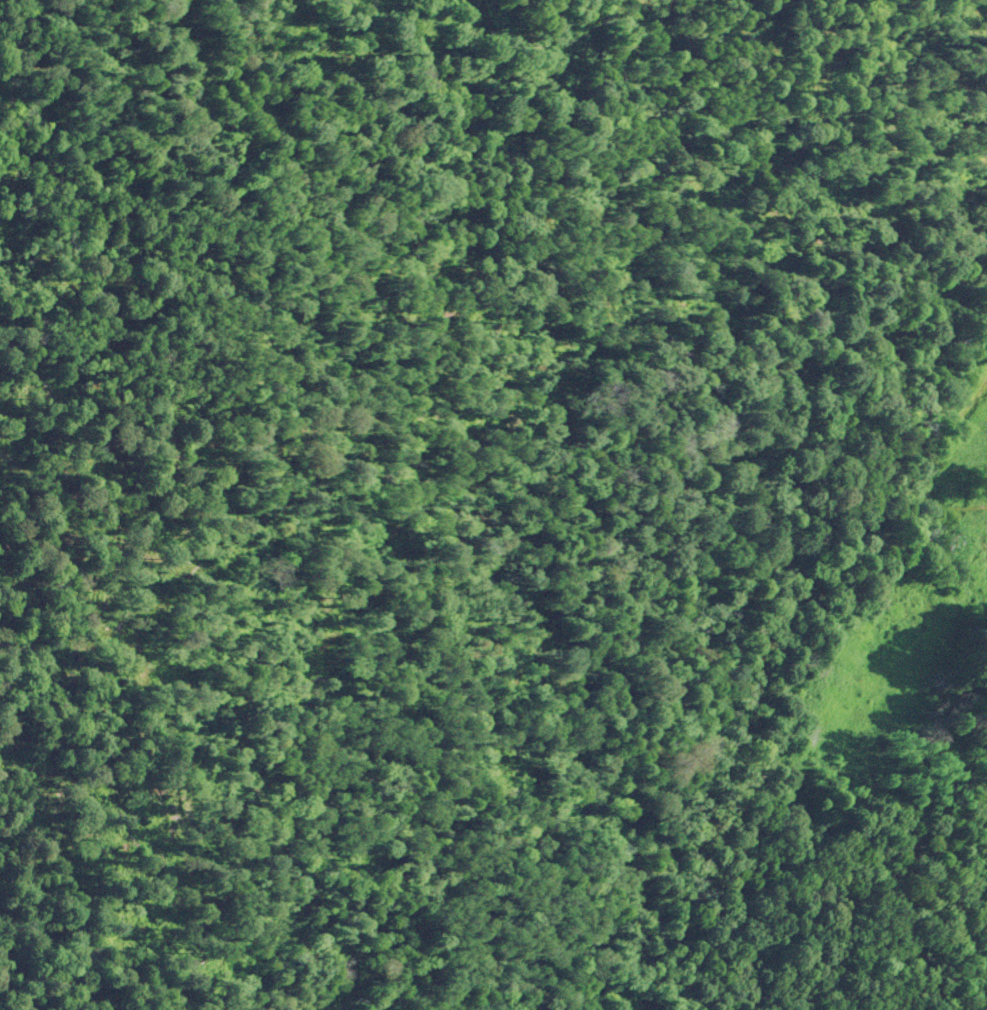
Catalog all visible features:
road: (959, 432)

